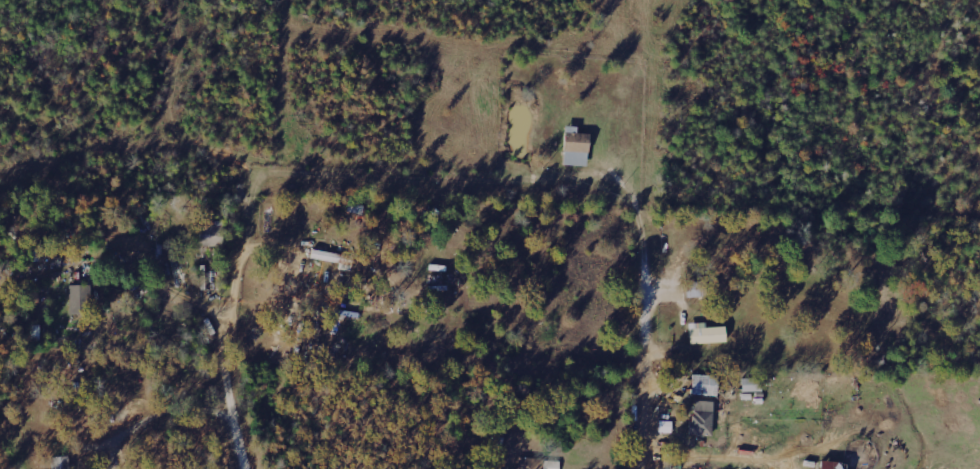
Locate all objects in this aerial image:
building: (577, 146)
road: (387, 173)
building: (212, 234)
building: (81, 299)
building: (36, 332)
building: (707, 333)
road: (651, 380)
building: (705, 384)
building: (752, 384)
building: (703, 417)
road: (242, 430)
building: (62, 462)
building: (834, 465)

